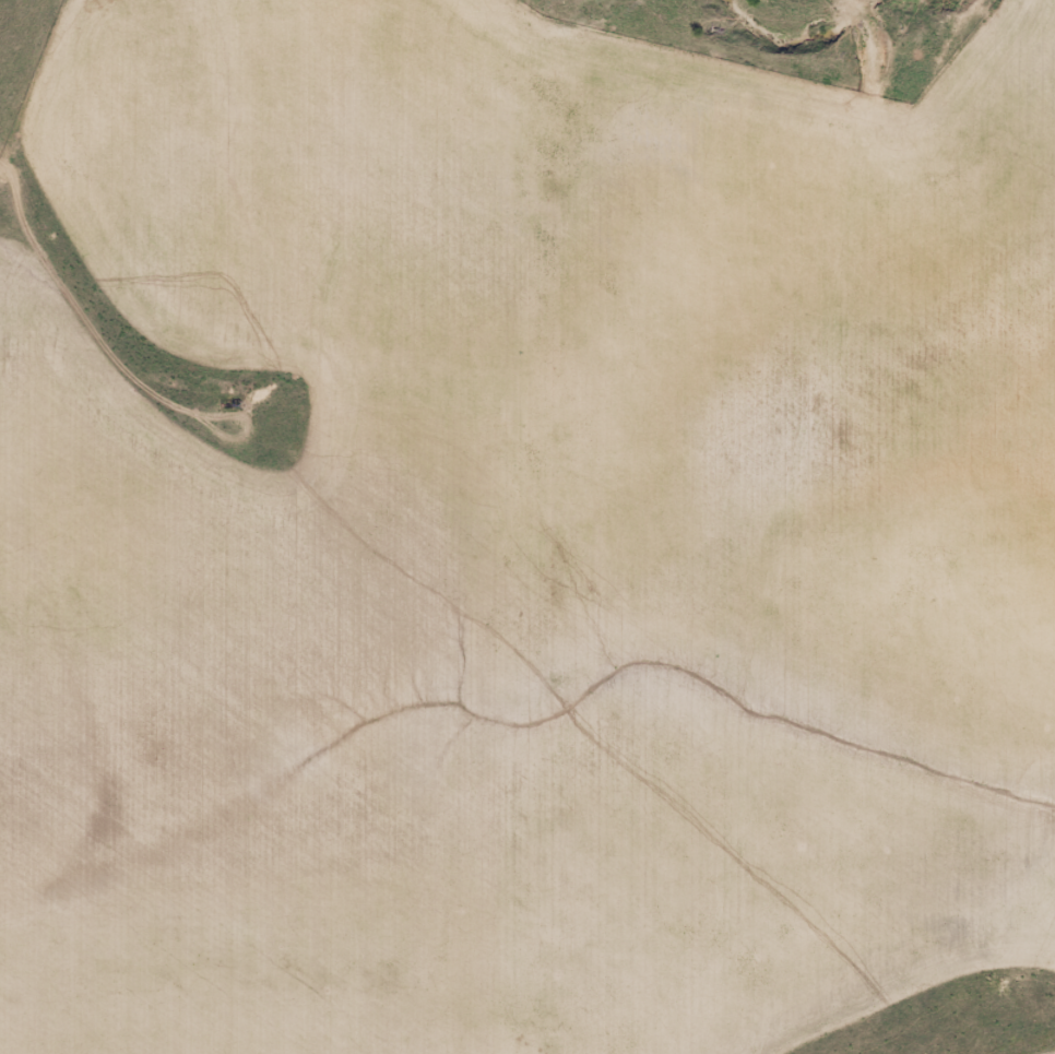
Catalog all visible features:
road: (743, 69)

